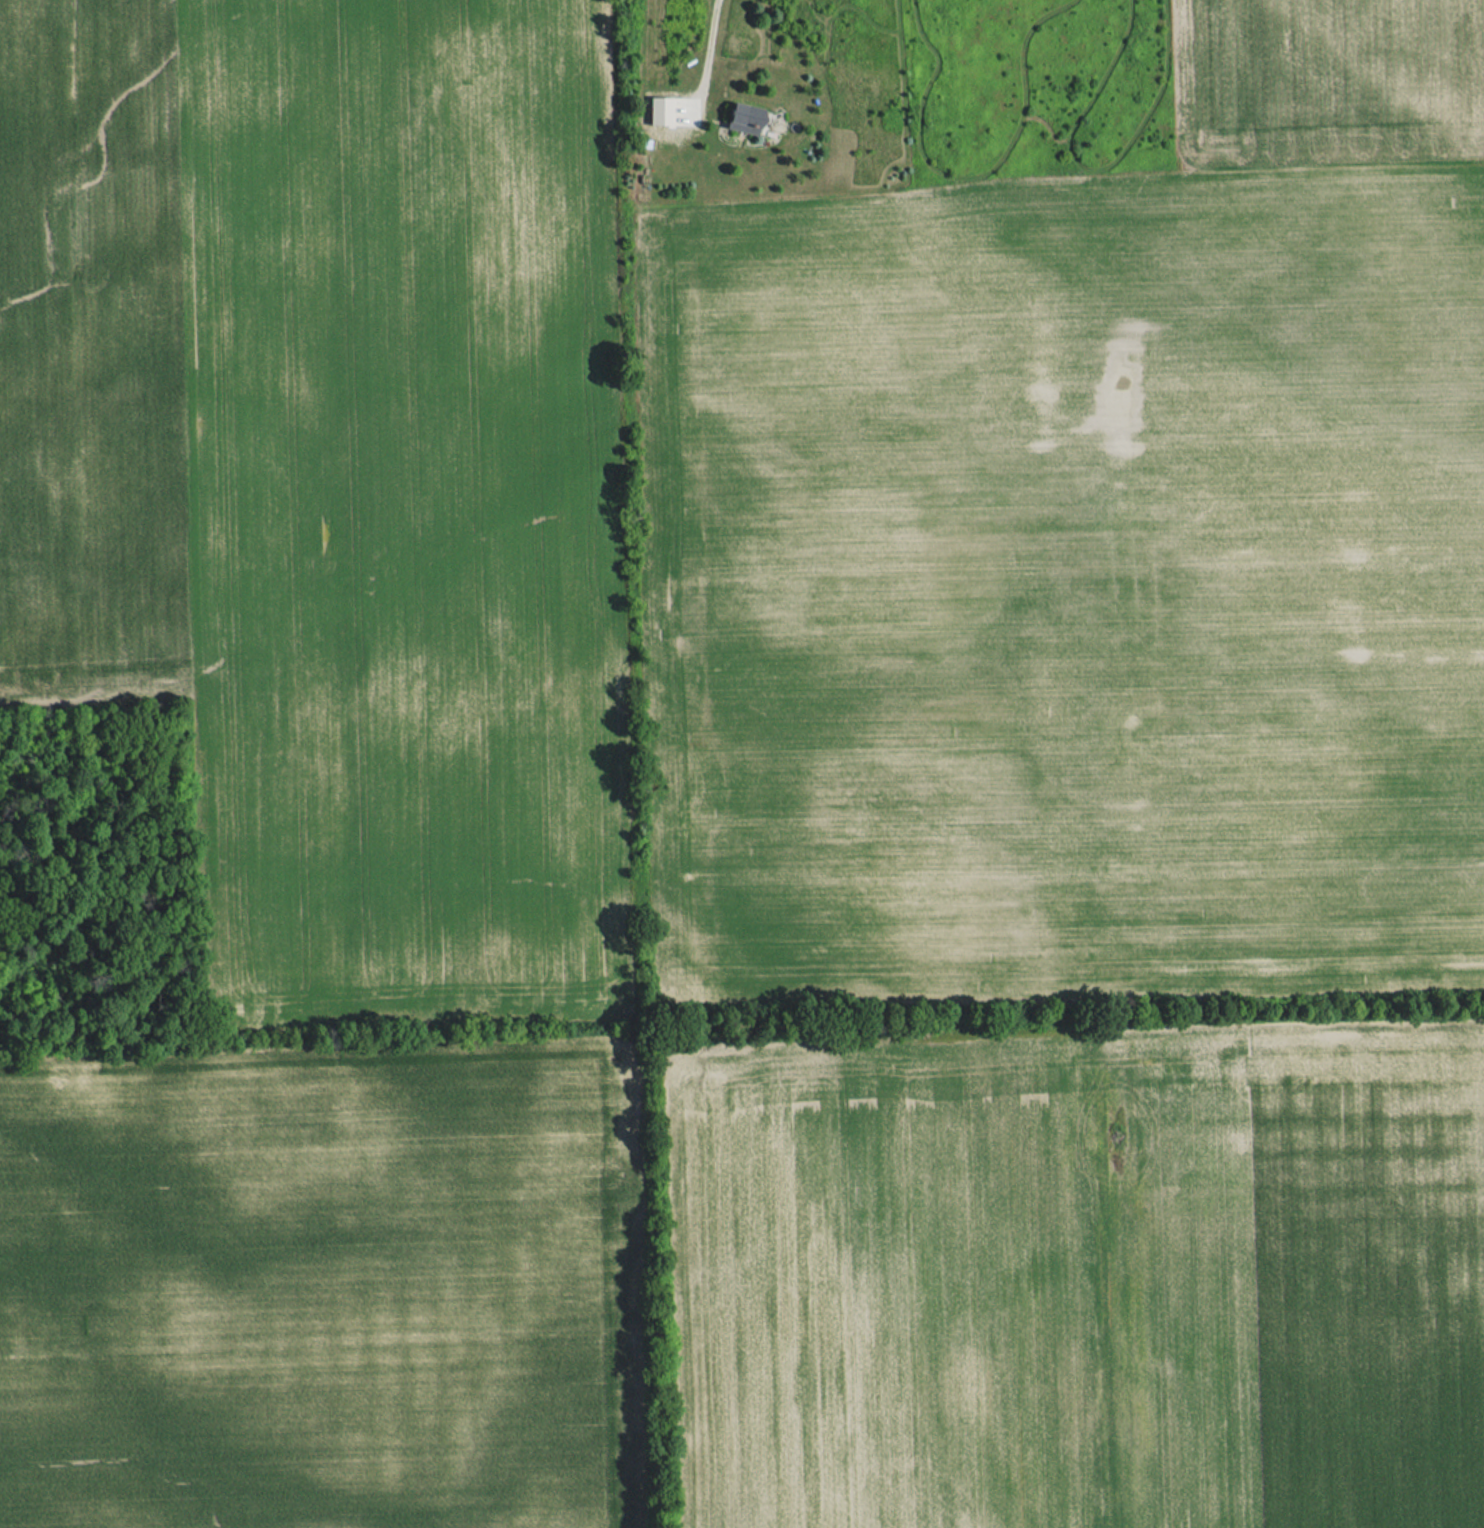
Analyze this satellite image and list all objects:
road: (710, 47)

